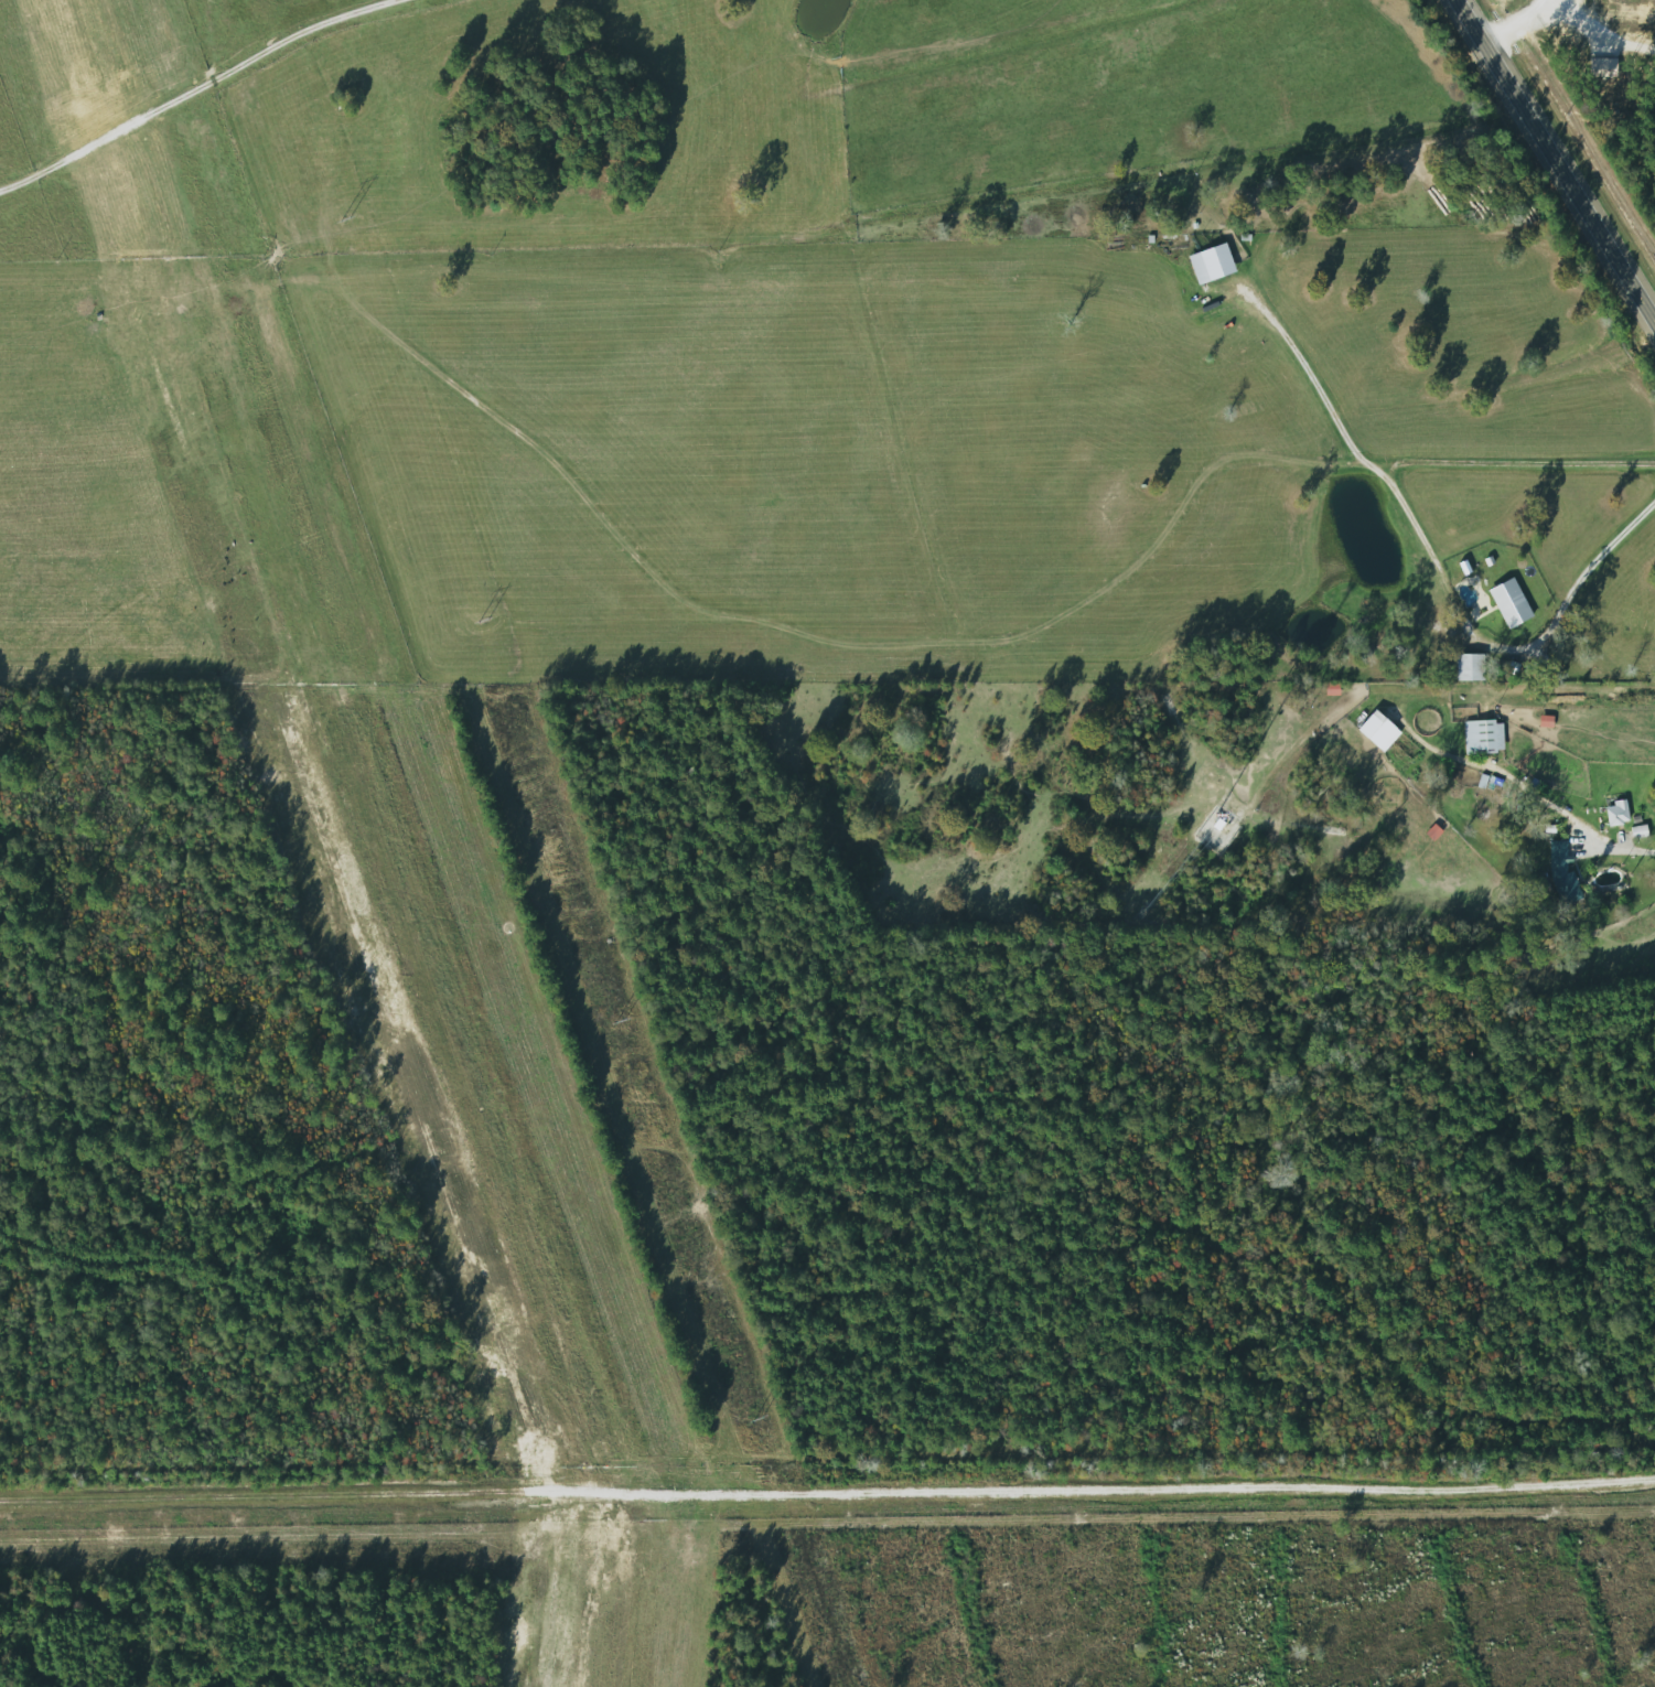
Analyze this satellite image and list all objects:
road: (195, 89)
road: (1549, 166)
power tower: (346, 218)
road: (1307, 380)
road: (1418, 541)
building: (1512, 604)
power tower: (484, 621)
building: (1471, 668)
building: (1380, 731)
building: (1484, 738)
building: (1618, 814)
road: (1618, 861)
building: (1563, 875)
power tower: (620, 1020)
power tower: (760, 1419)

